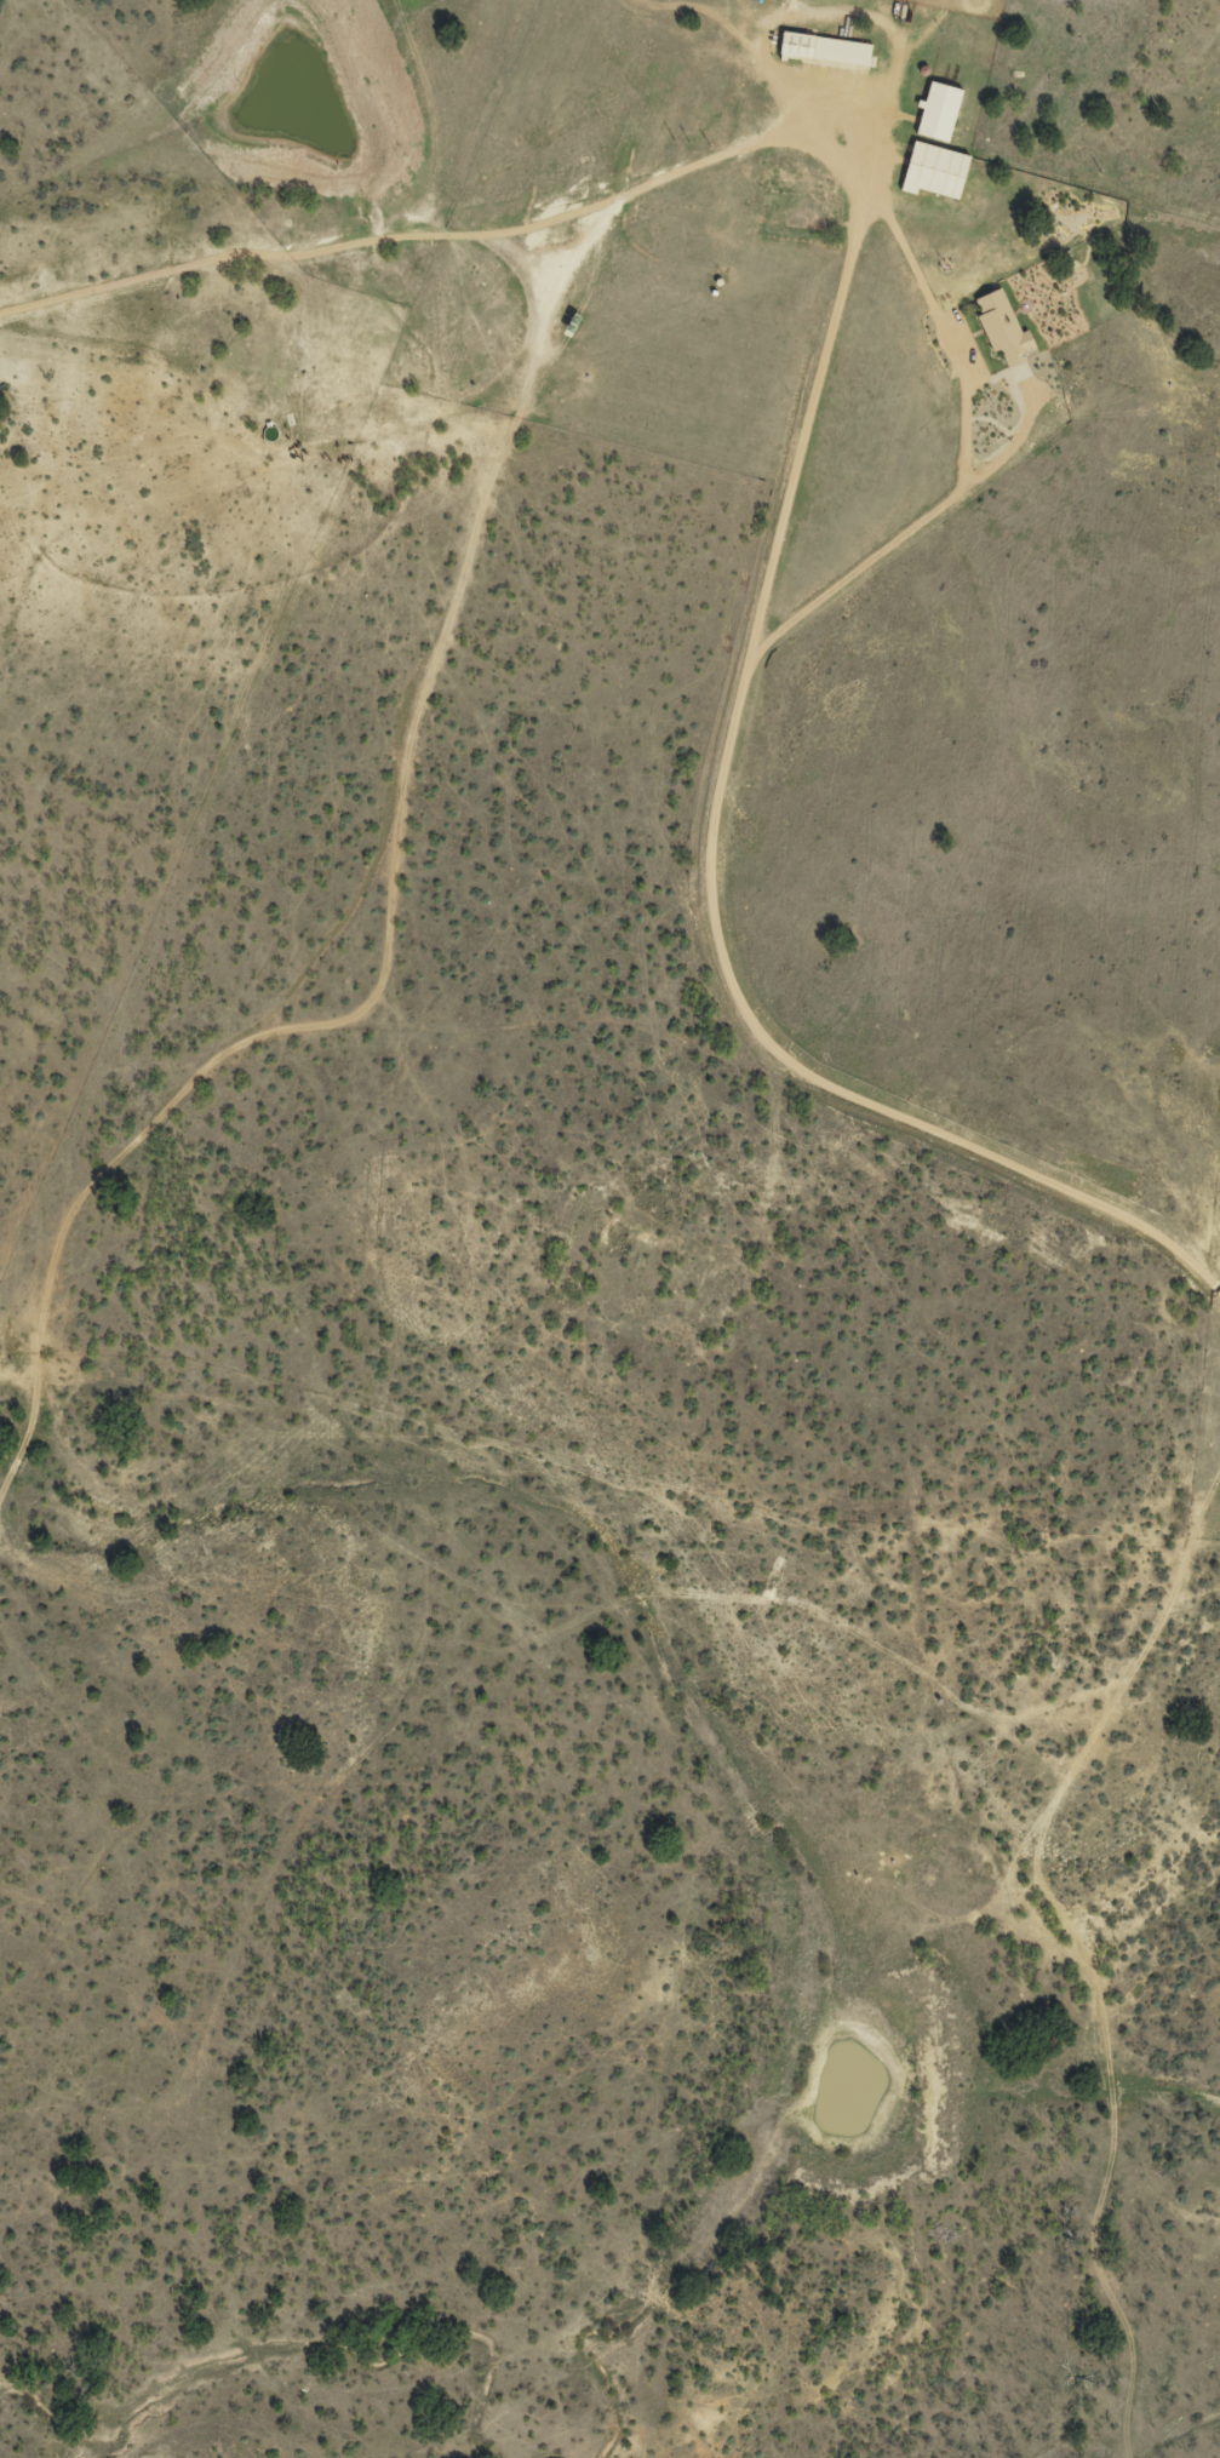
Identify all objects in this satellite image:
building: (944, 110)
building: (940, 168)
building: (812, 214)
building: (1007, 327)
road: (712, 795)

